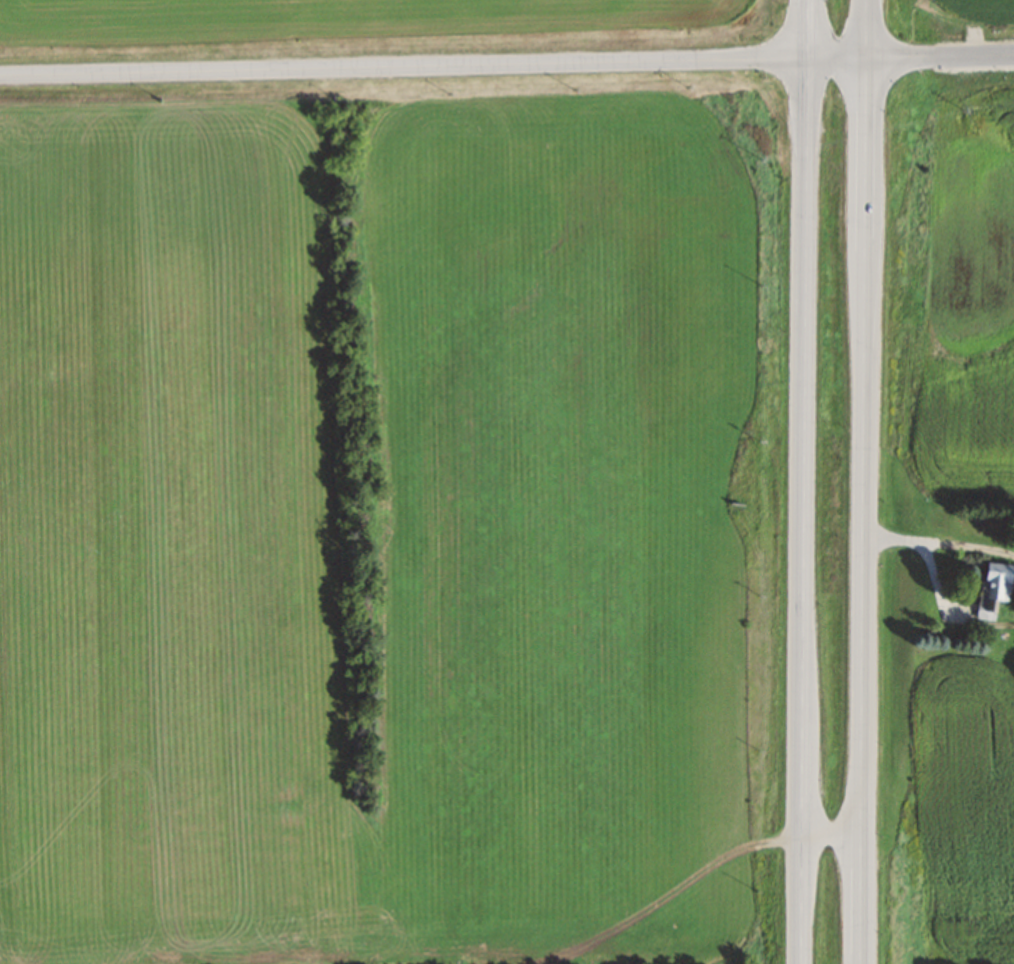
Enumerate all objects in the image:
road: (939, 55)
road: (433, 67)
road: (803, 481)
road: (862, 482)
road: (939, 542)
building: (991, 588)
road: (831, 827)

